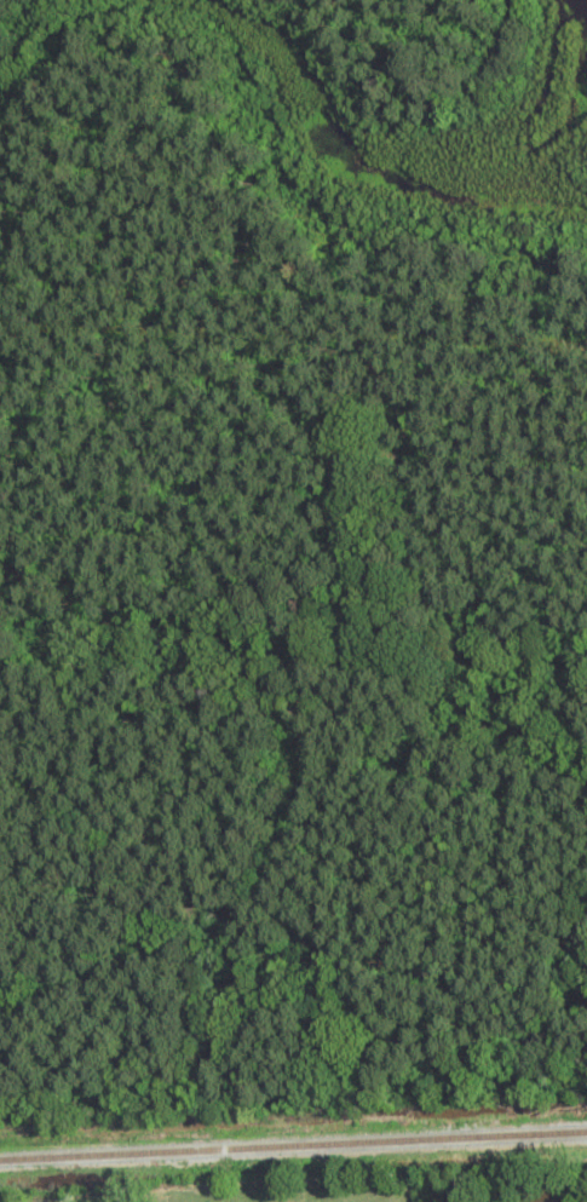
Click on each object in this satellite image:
railway: (293, 1145)

